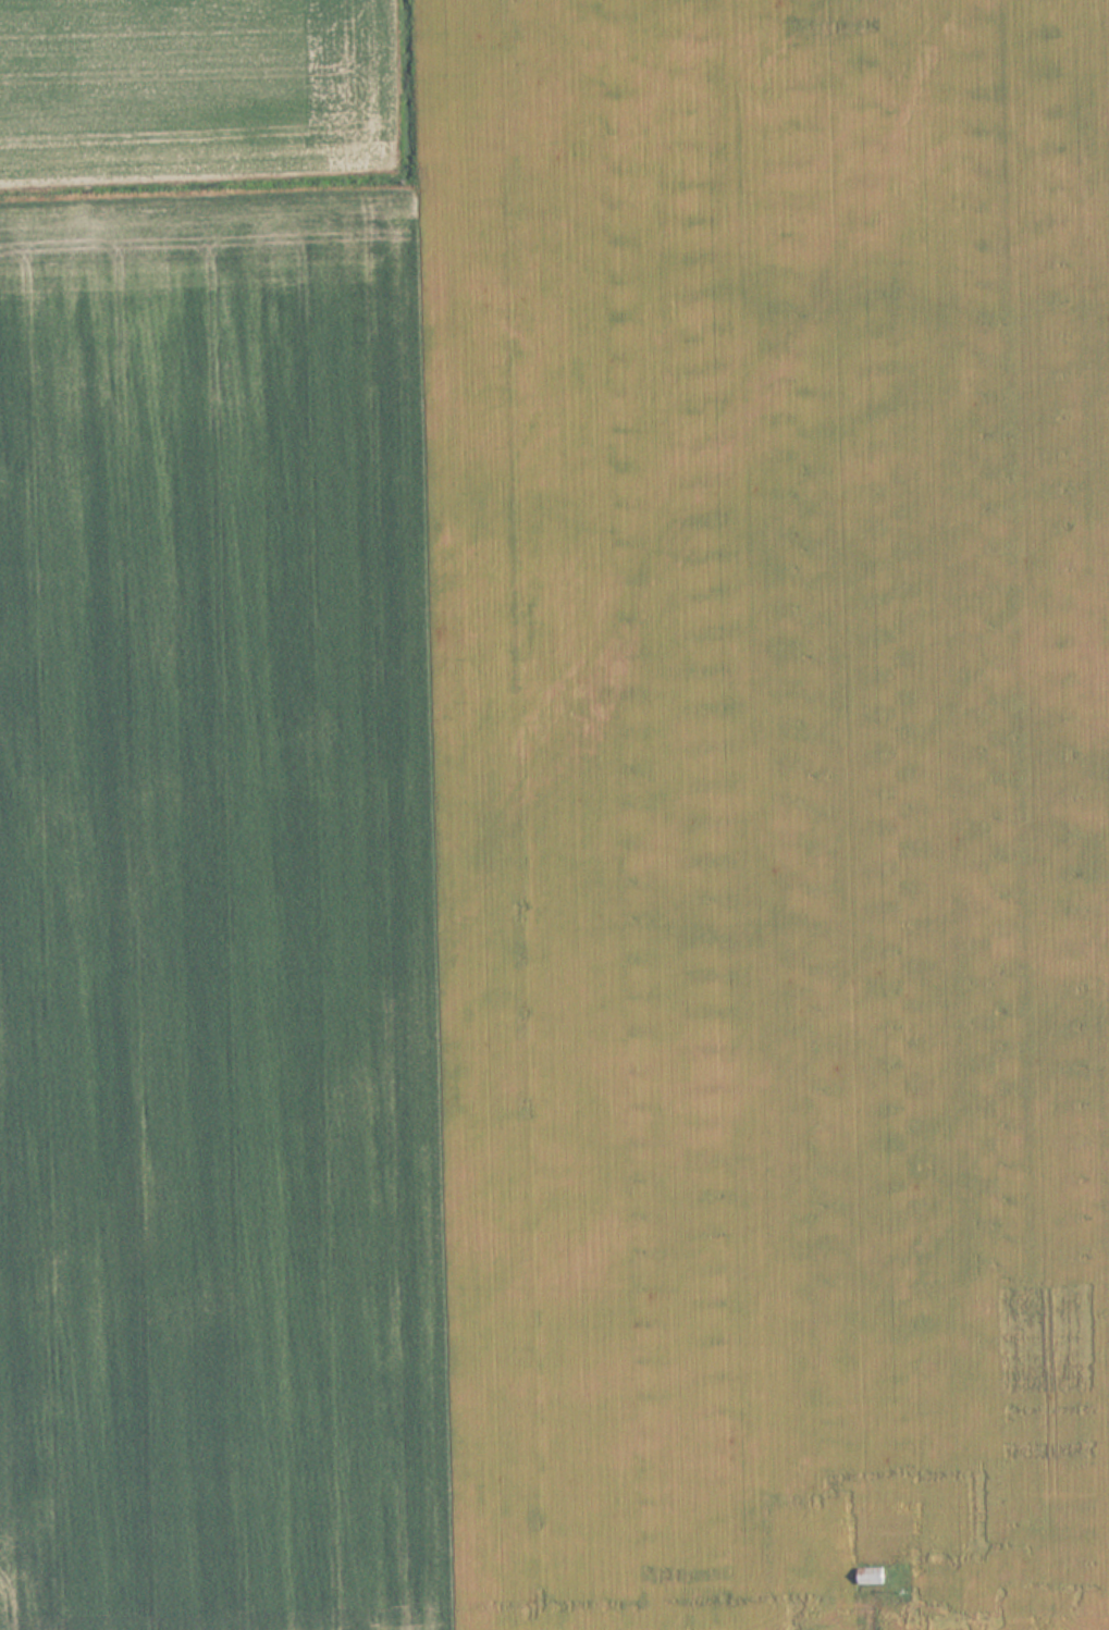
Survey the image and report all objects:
building: (873, 1576)

